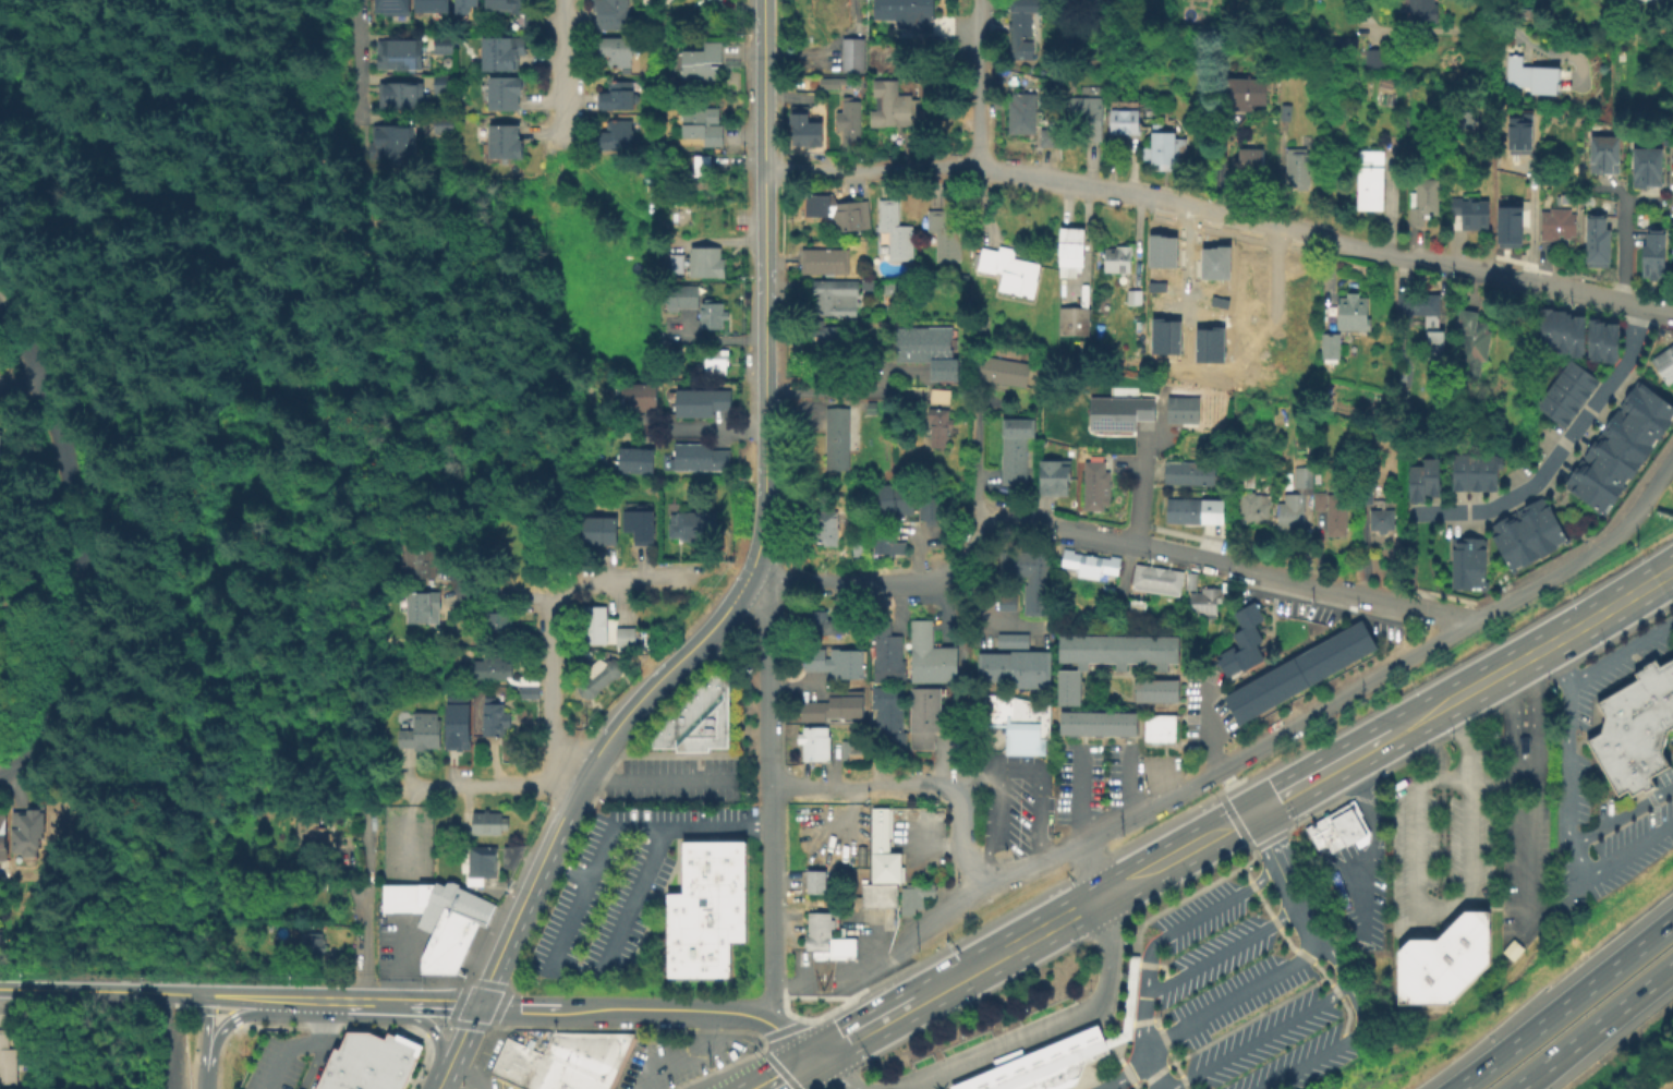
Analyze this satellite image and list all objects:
building: (432, 5)
building: (392, 7)
building: (470, 8)
building: (908, 10)
building: (513, 11)
building: (1421, 11)
building: (813, 13)
building: (613, 15)
building: (1022, 16)
road: (1520, 34)
building: (1347, 45)
building: (447, 49)
building: (617, 52)
building: (399, 55)
building: (505, 55)
road: (361, 56)
building: (852, 56)
building: (1375, 56)
building: (703, 64)
building: (1517, 75)
road: (975, 83)
building: (1387, 83)
road: (559, 84)
building: (833, 84)
building: (443, 86)
building: (930, 88)
building: (1245, 92)
building: (505, 94)
building: (402, 97)
building: (619, 97)
building: (892, 107)
building: (1023, 114)
building: (1088, 116)
building: (1130, 116)
building: (1468, 119)
road: (24, 123)
building: (850, 123)
building: (704, 125)
building: (444, 128)
building: (804, 131)
road: (53, 133)
building: (1517, 134)
building: (617, 136)
building: (1048, 137)
building: (505, 142)
building: (396, 148)
building: (1165, 149)
building: (1603, 159)
building: (1249, 164)
building: (1299, 169)
road: (871, 170)
building: (1647, 170)
building: (701, 174)
building: (1371, 181)
building: (1423, 202)
building: (1472, 213)
building: (850, 216)
road: (1234, 216)
road: (1530, 220)
building: (1510, 223)
building: (1557, 225)
road: (1619, 230)
building: (896, 231)
building: (946, 235)
building: (1597, 246)
building: (1071, 250)
building: (1164, 251)
building: (1653, 257)
building: (1118, 258)
building: (824, 261)
building: (677, 263)
building: (706, 263)
building: (1219, 263)
building: (1009, 269)
road: (1507, 277)
building: (1160, 286)
building: (1055, 290)
road: (766, 292)
building: (683, 294)
road: (1590, 294)
building: (1135, 297)
building: (1222, 302)
building: (836, 303)
road: (1664, 308)
road: (264, 313)
building: (1355, 313)
road: (199, 315)
building: (712, 316)
building: (1427, 319)
building: (1076, 323)
building: (1545, 327)
building: (1561, 329)
building: (1575, 335)
building: (1167, 336)
building: (1593, 337)
building: (827, 338)
building: (1474, 340)
building: (1609, 341)
building: (1212, 344)
building: (1332, 346)
building: (928, 350)
building: (1663, 362)
building: (713, 364)
road: (506, 371)
building: (1004, 373)
building: (1578, 374)
road: (120, 375)
building: (1569, 385)
road: (23, 386)
road: (829, 390)
building: (1561, 397)
building: (939, 398)
building: (640, 400)
building: (703, 402)
building: (1646, 404)
building: (1185, 408)
building: (871, 409)
building: (1552, 409)
building: (1120, 413)
building: (1018, 423)
building: (938, 427)
road: (705, 431)
building: (1627, 432)
building: (838, 438)
building: (1, 448)
road: (1556, 449)
road: (154, 450)
building: (1014, 458)
building: (635, 459)
building: (703, 459)
building: (1610, 459)
building: (1099, 463)
building: (1457, 471)
building: (1472, 471)
building: (1488, 471)
building: (1187, 472)
building: (1055, 474)
building: (1430, 474)
building: (1242, 477)
building: (1414, 482)
building: (1591, 486)
road: (1138, 488)
building: (1099, 491)
building: (1367, 494)
building: (888, 497)
building: (1296, 500)
building: (1316, 500)
building: (926, 507)
building: (1253, 508)
building: (1192, 510)
building: (1337, 517)
building: (1382, 520)
building: (640, 523)
building: (694, 524)
building: (1540, 524)
building: (826, 528)
building: (602, 531)
building: (1512, 540)
building: (884, 543)
road: (81, 544)
road: (1118, 544)
building: (858, 547)
road: (968, 547)
building: (1074, 560)
building: (1467, 560)
building: (420, 564)
building: (1101, 565)
building: (1142, 577)
building: (1033, 579)
building: (1167, 581)
building: (1192, 581)
road: (846, 582)
road: (1325, 590)
road: (563, 592)
building: (1004, 602)
building: (1207, 602)
building: (421, 608)
road: (1435, 613)
building: (497, 625)
building: (820, 626)
building: (595, 627)
building: (626, 638)
building: (1010, 639)
building: (1240, 641)
building: (1116, 650)
road: (1621, 650)
building: (887, 654)
road: (1533, 654)
building: (932, 656)
building: (836, 666)
building: (1010, 666)
building: (493, 668)
building: (1297, 670)
building: (602, 678)
building: (526, 681)
building: (1066, 688)
building: (1153, 690)
road: (548, 693)
building: (528, 697)
building: (2, 710)
road: (633, 711)
building: (833, 711)
building: (695, 715)
building: (890, 717)
road: (1503, 718)
road: (1535, 718)
building: (493, 719)
building: (925, 721)
building: (1014, 721)
building: (456, 722)
building: (1095, 722)
road: (1298, 725)
building: (1634, 726)
building: (1157, 727)
road: (1210, 727)
building: (421, 735)
road: (1463, 740)
building: (1522, 742)
building: (815, 748)
building: (852, 753)
road: (343, 769)
road: (1323, 774)
road: (2, 776)
road: (1033, 777)
road: (1493, 779)
road: (658, 781)
road: (1160, 781)
road: (1125, 783)
road: (498, 784)
road: (862, 786)
road: (355, 789)
road: (1077, 796)
road: (772, 798)
traffic signals: (1254, 813)
road: (1619, 813)
road: (1565, 816)
road: (1245, 818)
road: (1234, 820)
building: (488, 824)
road: (610, 824)
building: (1337, 826)
building: (24, 830)
building: (314, 831)
building: (1, 835)
road: (961, 843)
road: (1519, 845)
building: (881, 846)
road: (1261, 847)
road: (1371, 850)
building: (508, 855)
building: (478, 860)
road: (1168, 860)
road: (1284, 871)
road: (1090, 872)
building: (813, 880)
road: (634, 893)
building: (874, 894)
building: (911, 895)
road: (1189, 897)
road: (367, 904)
road: (1411, 906)
building: (706, 909)
building: (439, 918)
road: (511, 931)
building: (1, 943)
building: (825, 945)
building: (313, 946)
road: (1149, 947)
road: (1221, 949)
building: (1442, 959)
road: (401, 965)
road: (862, 972)
road: (822, 978)
road: (960, 978)
road: (792, 985)
parking lot: (1246, 990)
road: (62, 991)
road: (149, 992)
road: (186, 994)
road: (237, 995)
road: (1128, 996)
road: (306, 997)
road: (1232, 997)
road: (352, 999)
road: (383, 1000)
road: (438, 1002)
road: (116, 1004)
road: (518, 1006)
road: (1564, 1007)
road: (671, 1008)
road: (1080, 1017)
road: (220, 1027)
road: (1595, 1029)
road: (1355, 1030)
road: (1260, 1034)
road: (435, 1037)
road: (206, 1040)
road: (166, 1041)
road: (801, 1042)
road: (299, 1043)
road: (1106, 1043)
road: (458, 1046)
building: (729, 1052)
road: (683, 1054)
building: (1053, 1054)
road: (766, 1057)
traffic signals: (821, 1057)
parking lot: (677, 1058)
building: (5, 1060)
building: (562, 1060)
building: (369, 1062)
road: (1094, 1062)
road: (314, 1065)
road: (1045, 1065)
parking lot: (485, 1066)
road: (1124, 1066)
road: (1149, 1069)
road: (791, 1073)
road: (837, 1077)
road: (934, 1079)
road: (459, 1082)

